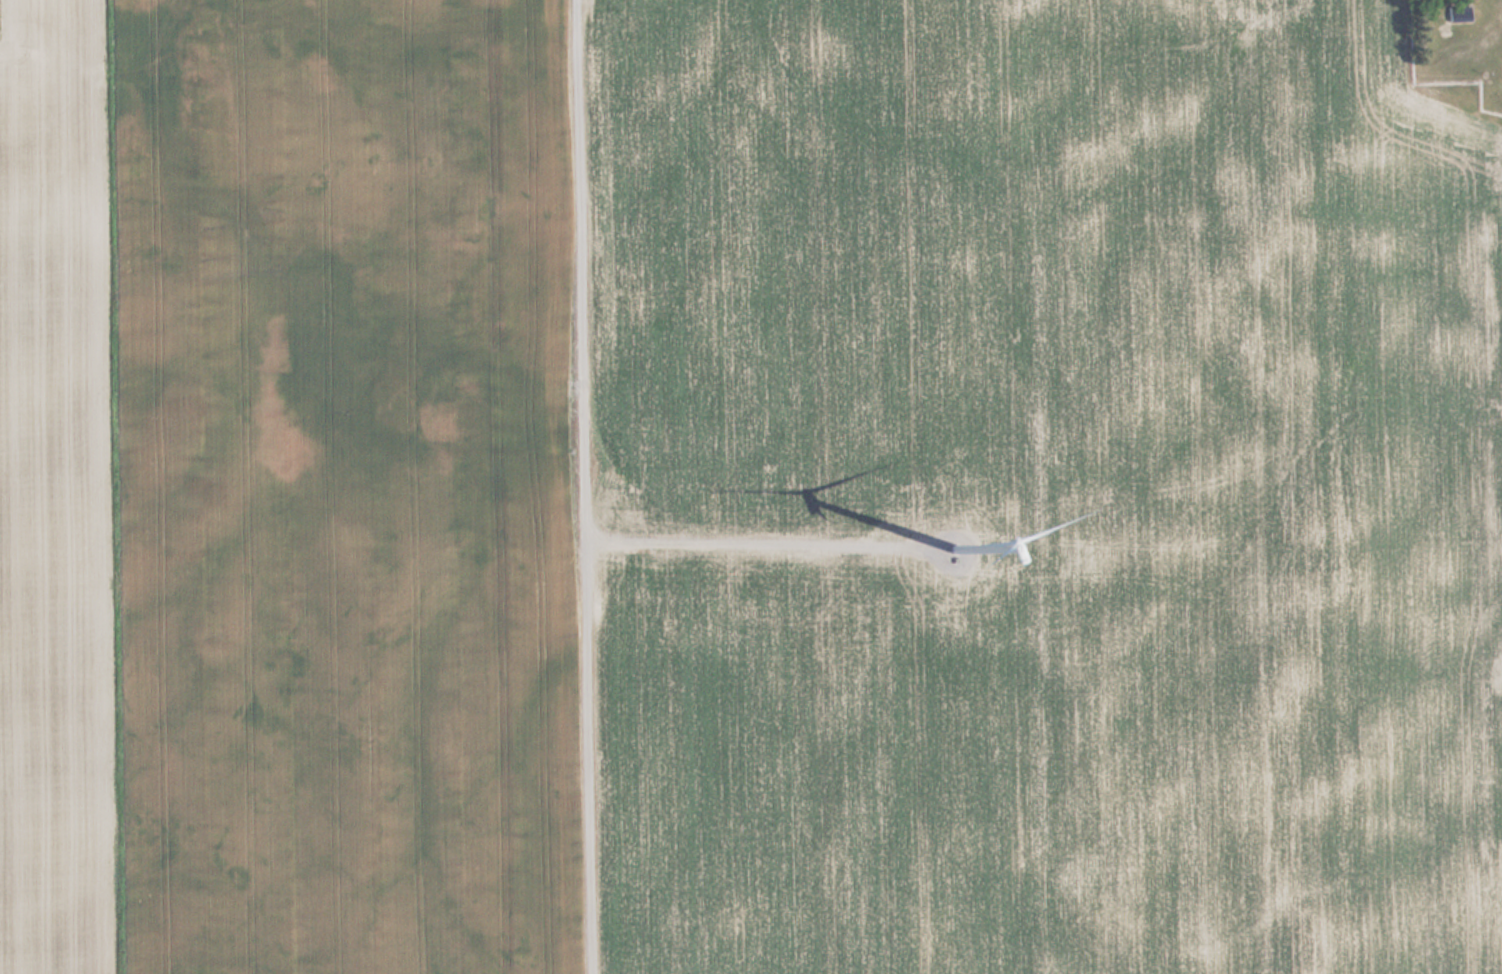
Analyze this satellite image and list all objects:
building: (1457, 13)
road: (572, 486)
road: (732, 540)
wind turbine: (960, 553)

